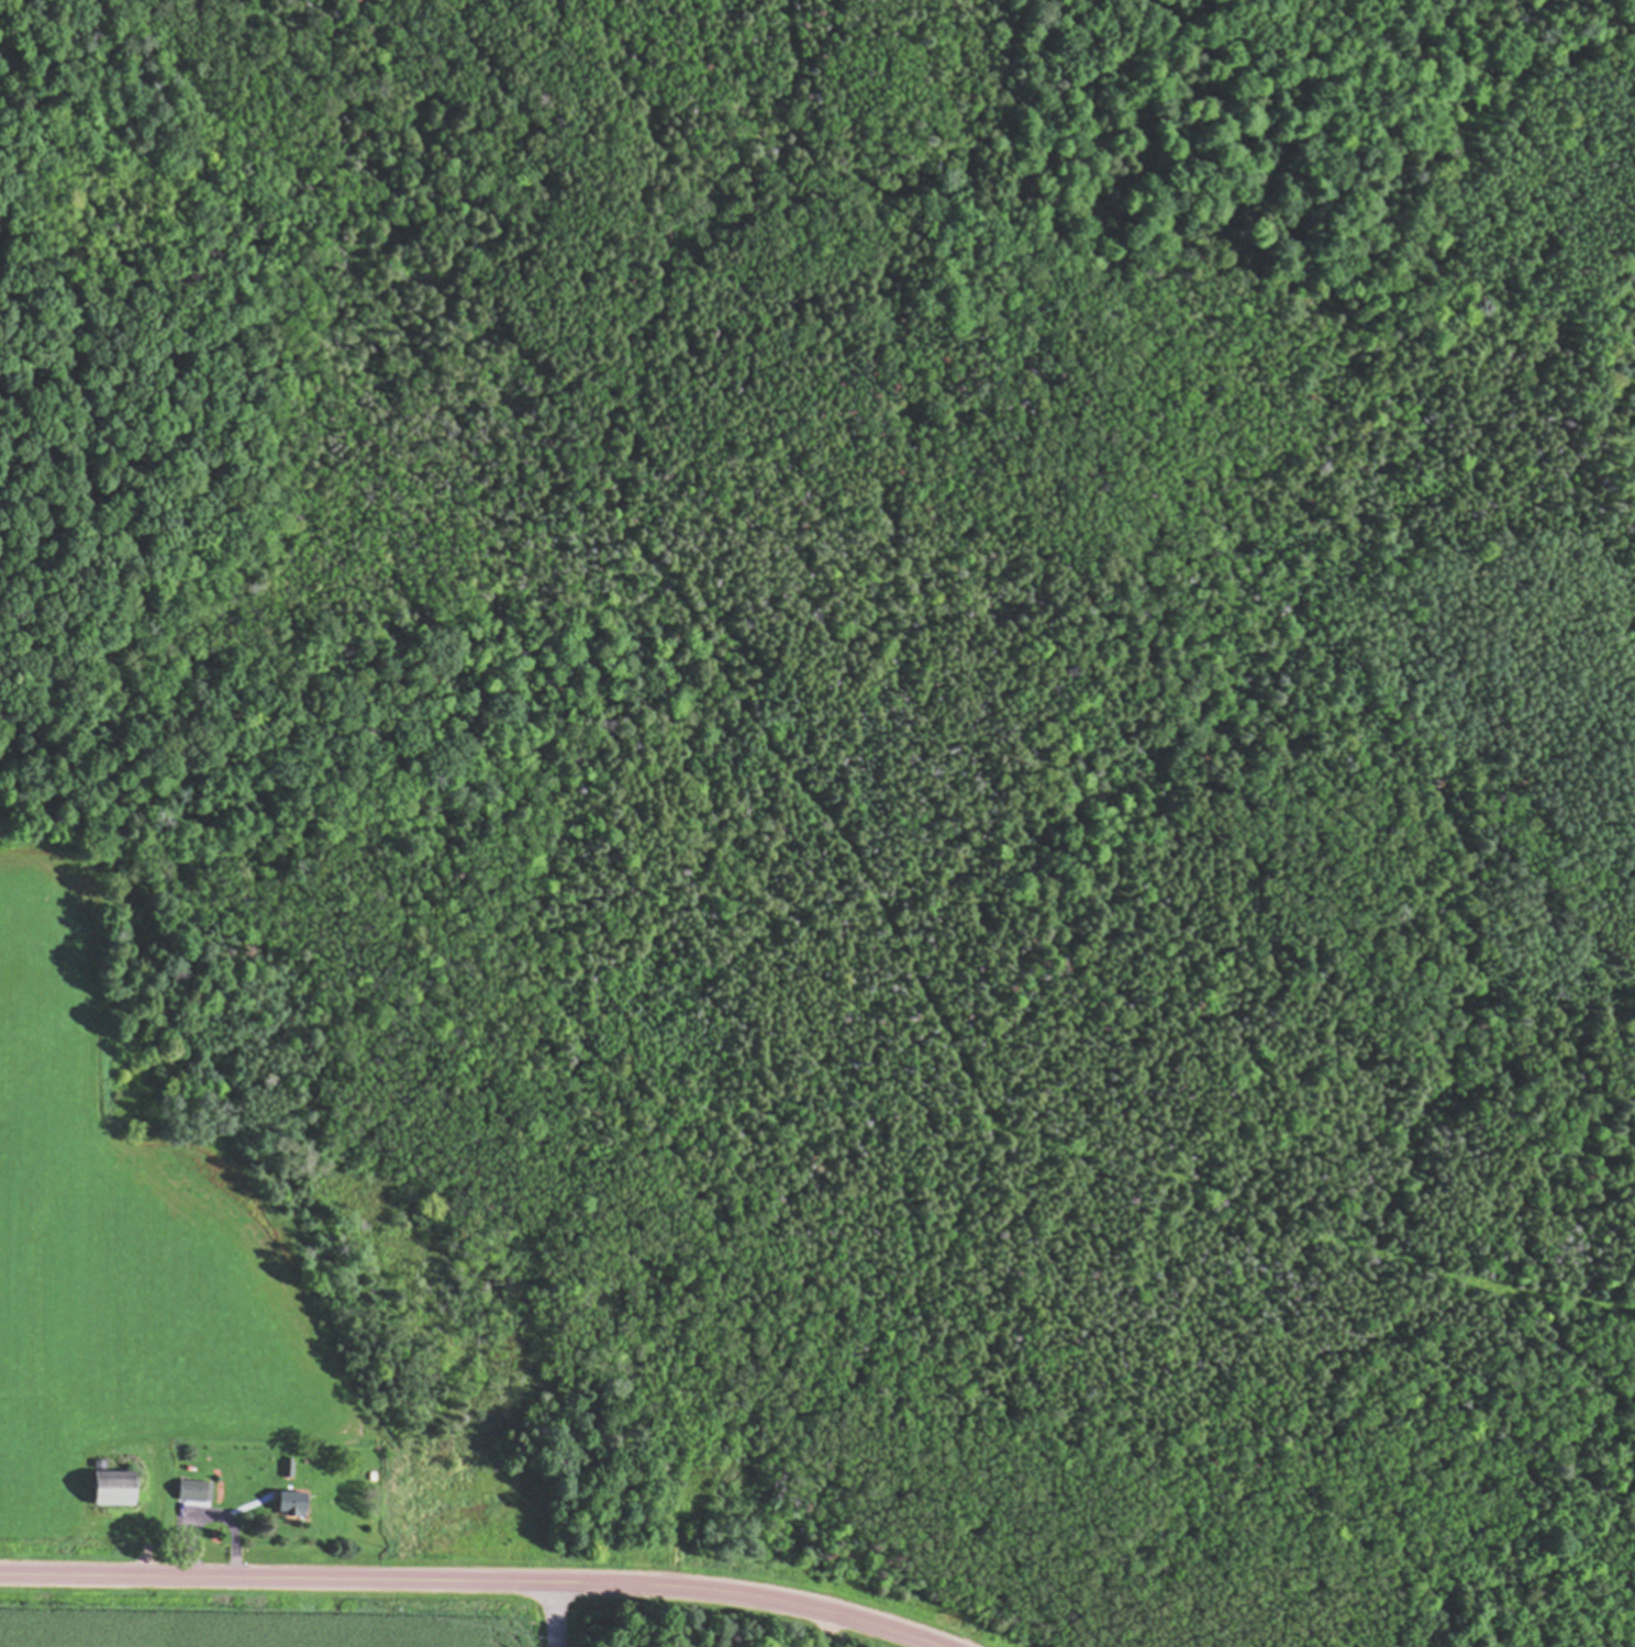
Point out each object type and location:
building: (119, 1490)
building: (196, 1492)
building: (297, 1505)
road: (475, 1580)
road: (557, 1614)

